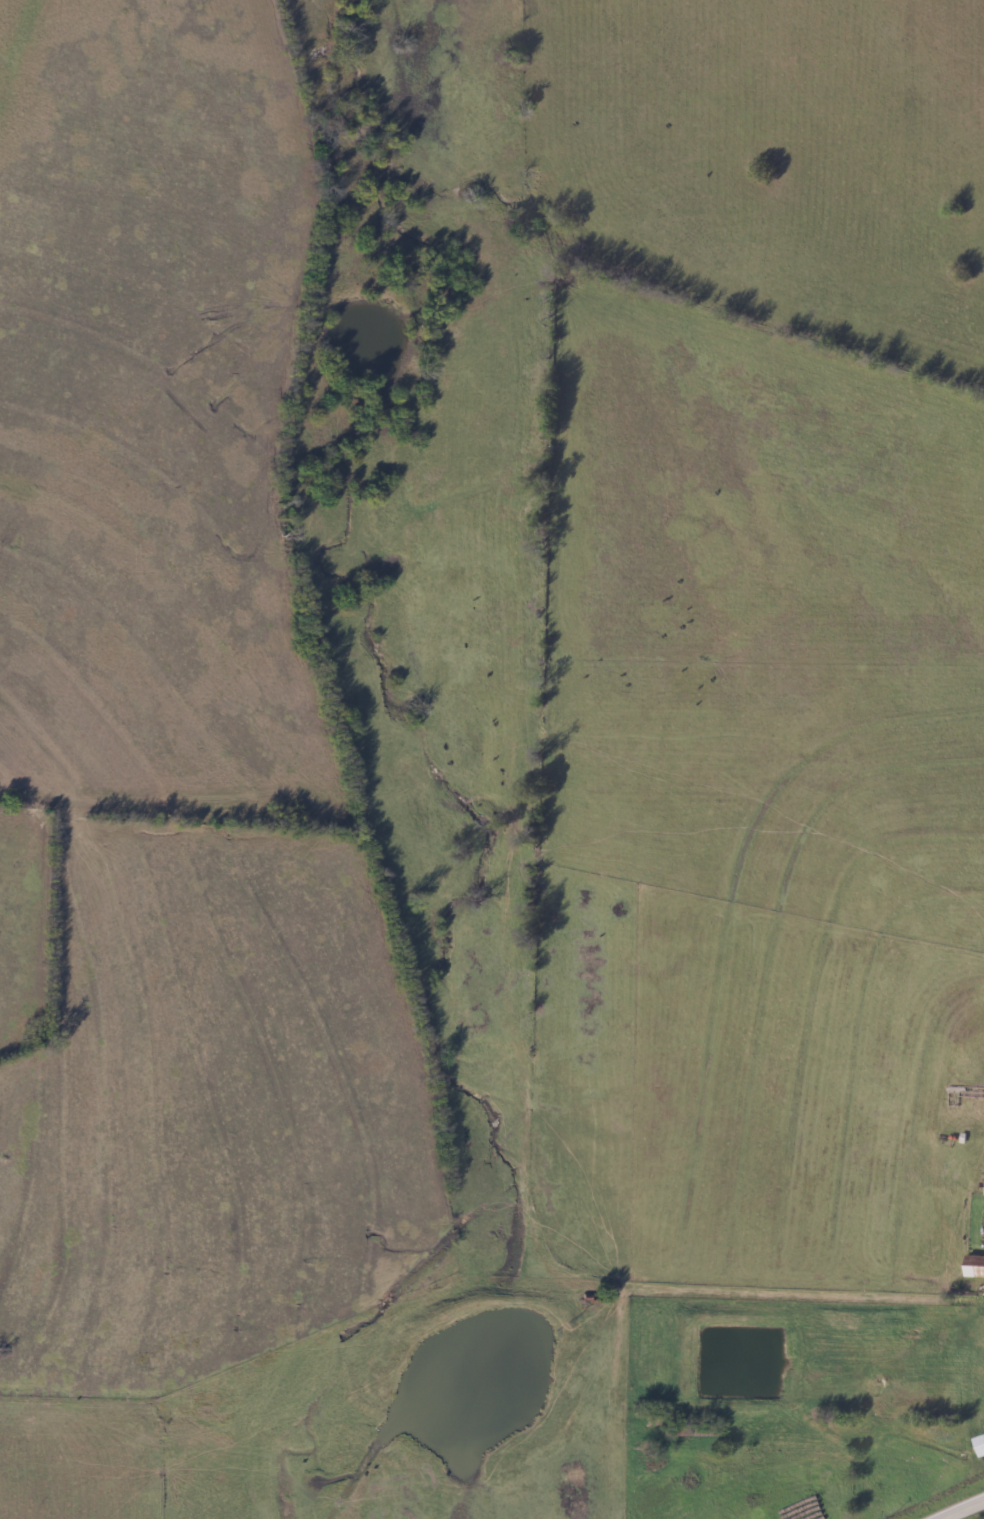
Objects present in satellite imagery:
building: (965, 1098)
building: (974, 1268)
building: (979, 1444)
road: (963, 1510)

